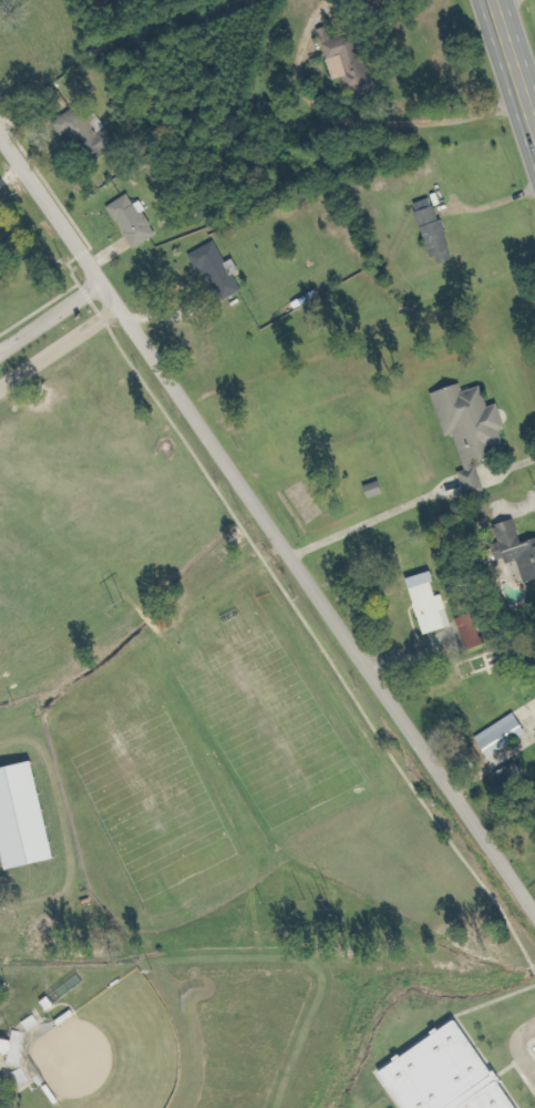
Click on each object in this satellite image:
road: (515, 60)
building: (349, 61)
building: (88, 134)
building: (135, 222)
building: (435, 232)
building: (0, 247)
building: (220, 273)
road: (50, 318)
road: (59, 351)
building: (472, 429)
building: (375, 490)
road: (267, 526)
building: (517, 547)
power tower: (116, 604)
building: (431, 604)
building: (472, 630)
building: (503, 735)
building: (22, 818)
power tower: (329, 900)
building: (20, 1048)
building: (0, 1059)
building: (446, 1075)

